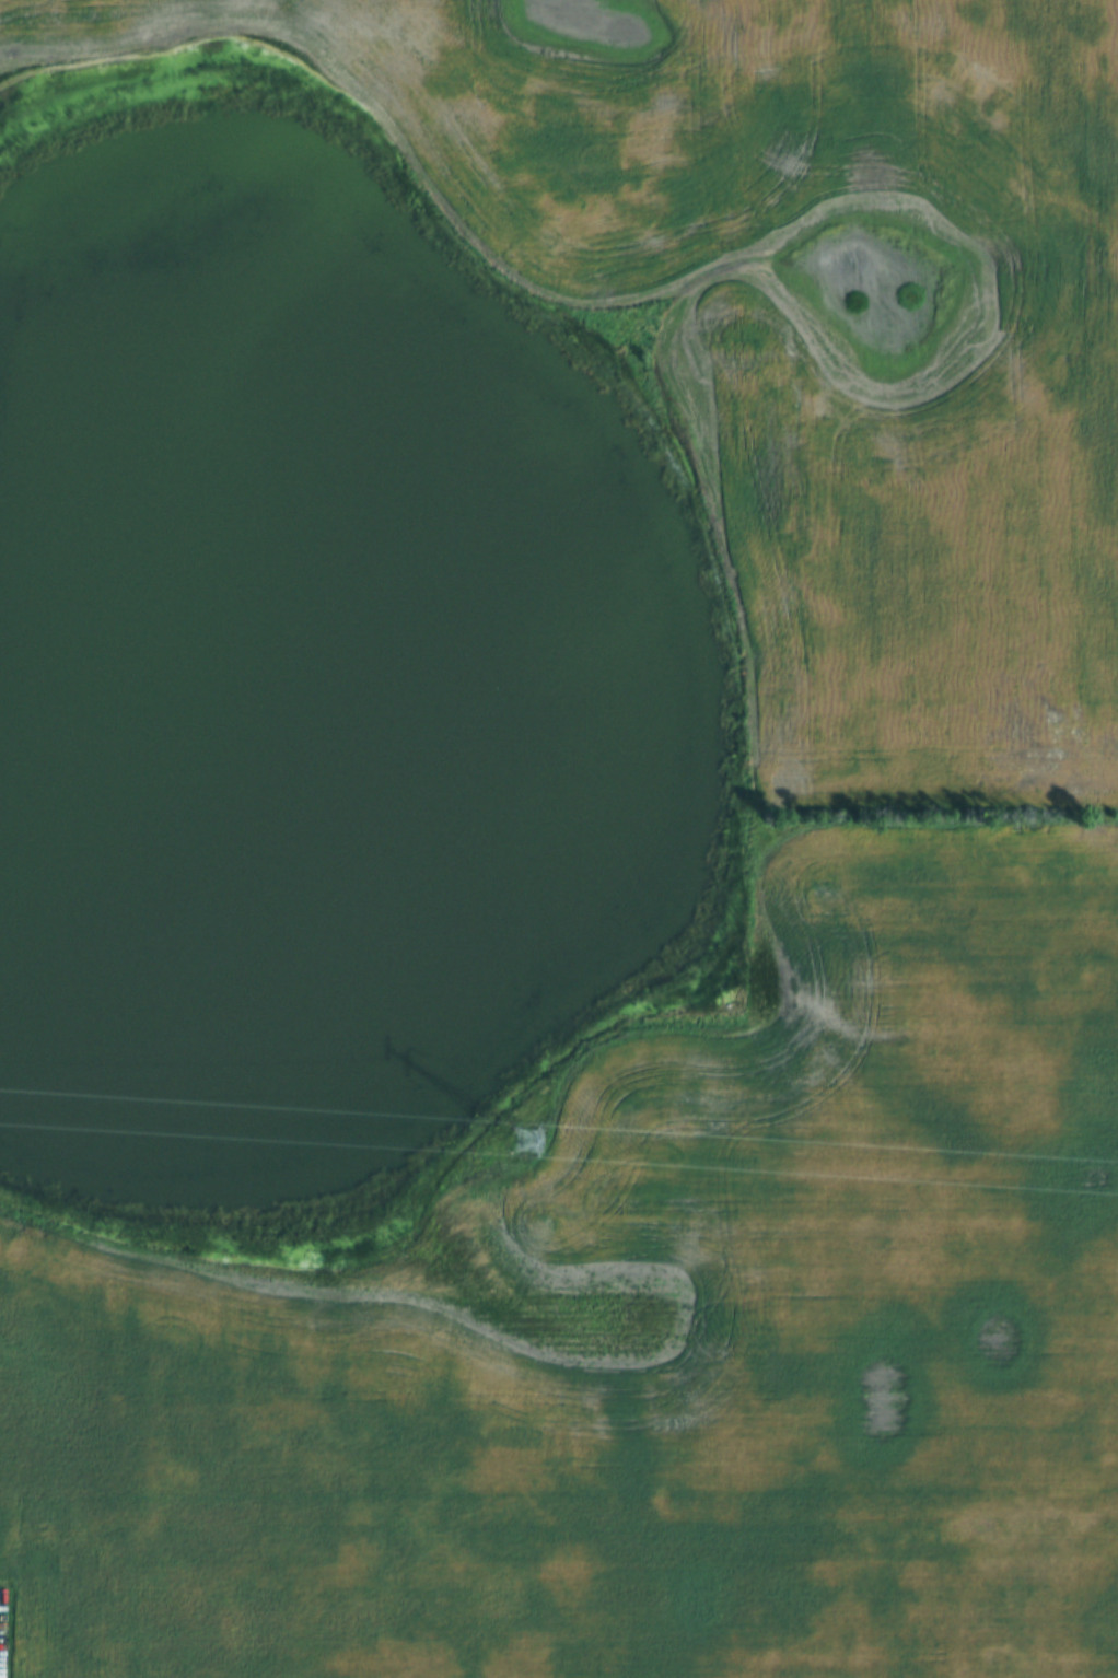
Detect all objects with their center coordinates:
power tower: (522, 1139)

